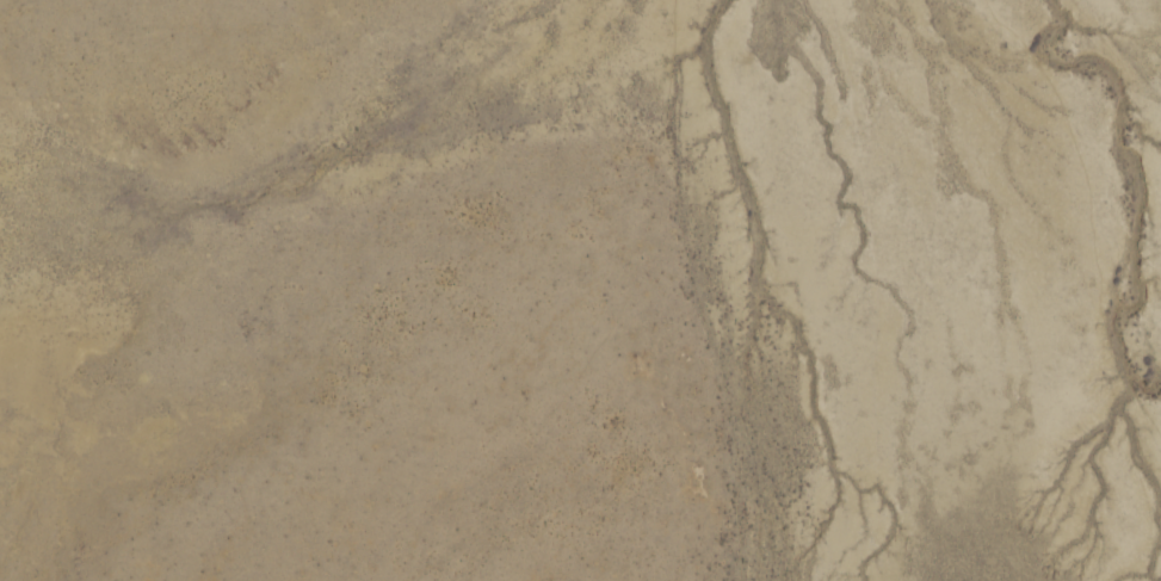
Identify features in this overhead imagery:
river: (1116, 185)

